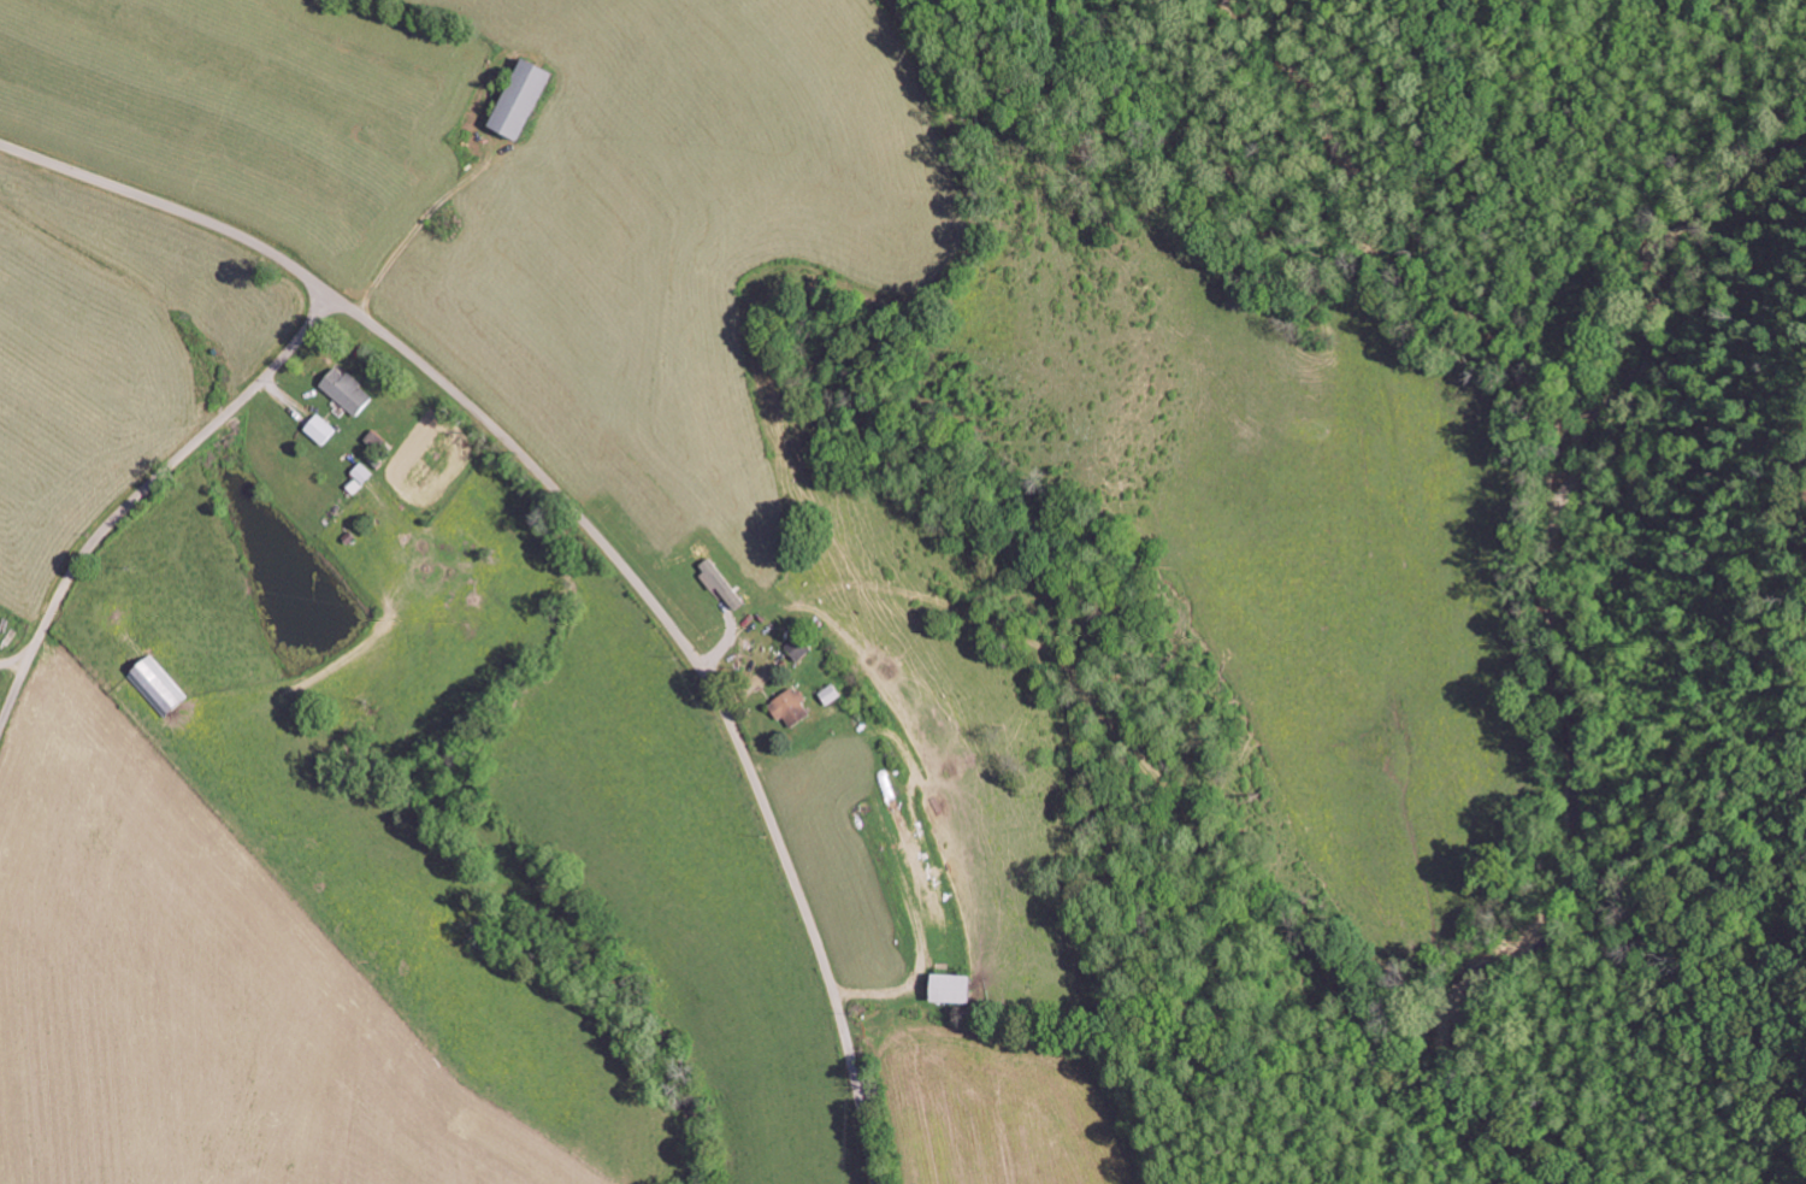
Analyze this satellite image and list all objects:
road: (1524, 17)
building: (523, 96)
building: (348, 389)
building: (320, 428)
road: (141, 493)
road: (591, 532)
building: (799, 647)
building: (158, 685)
building: (831, 693)
building: (790, 706)
building: (952, 988)

